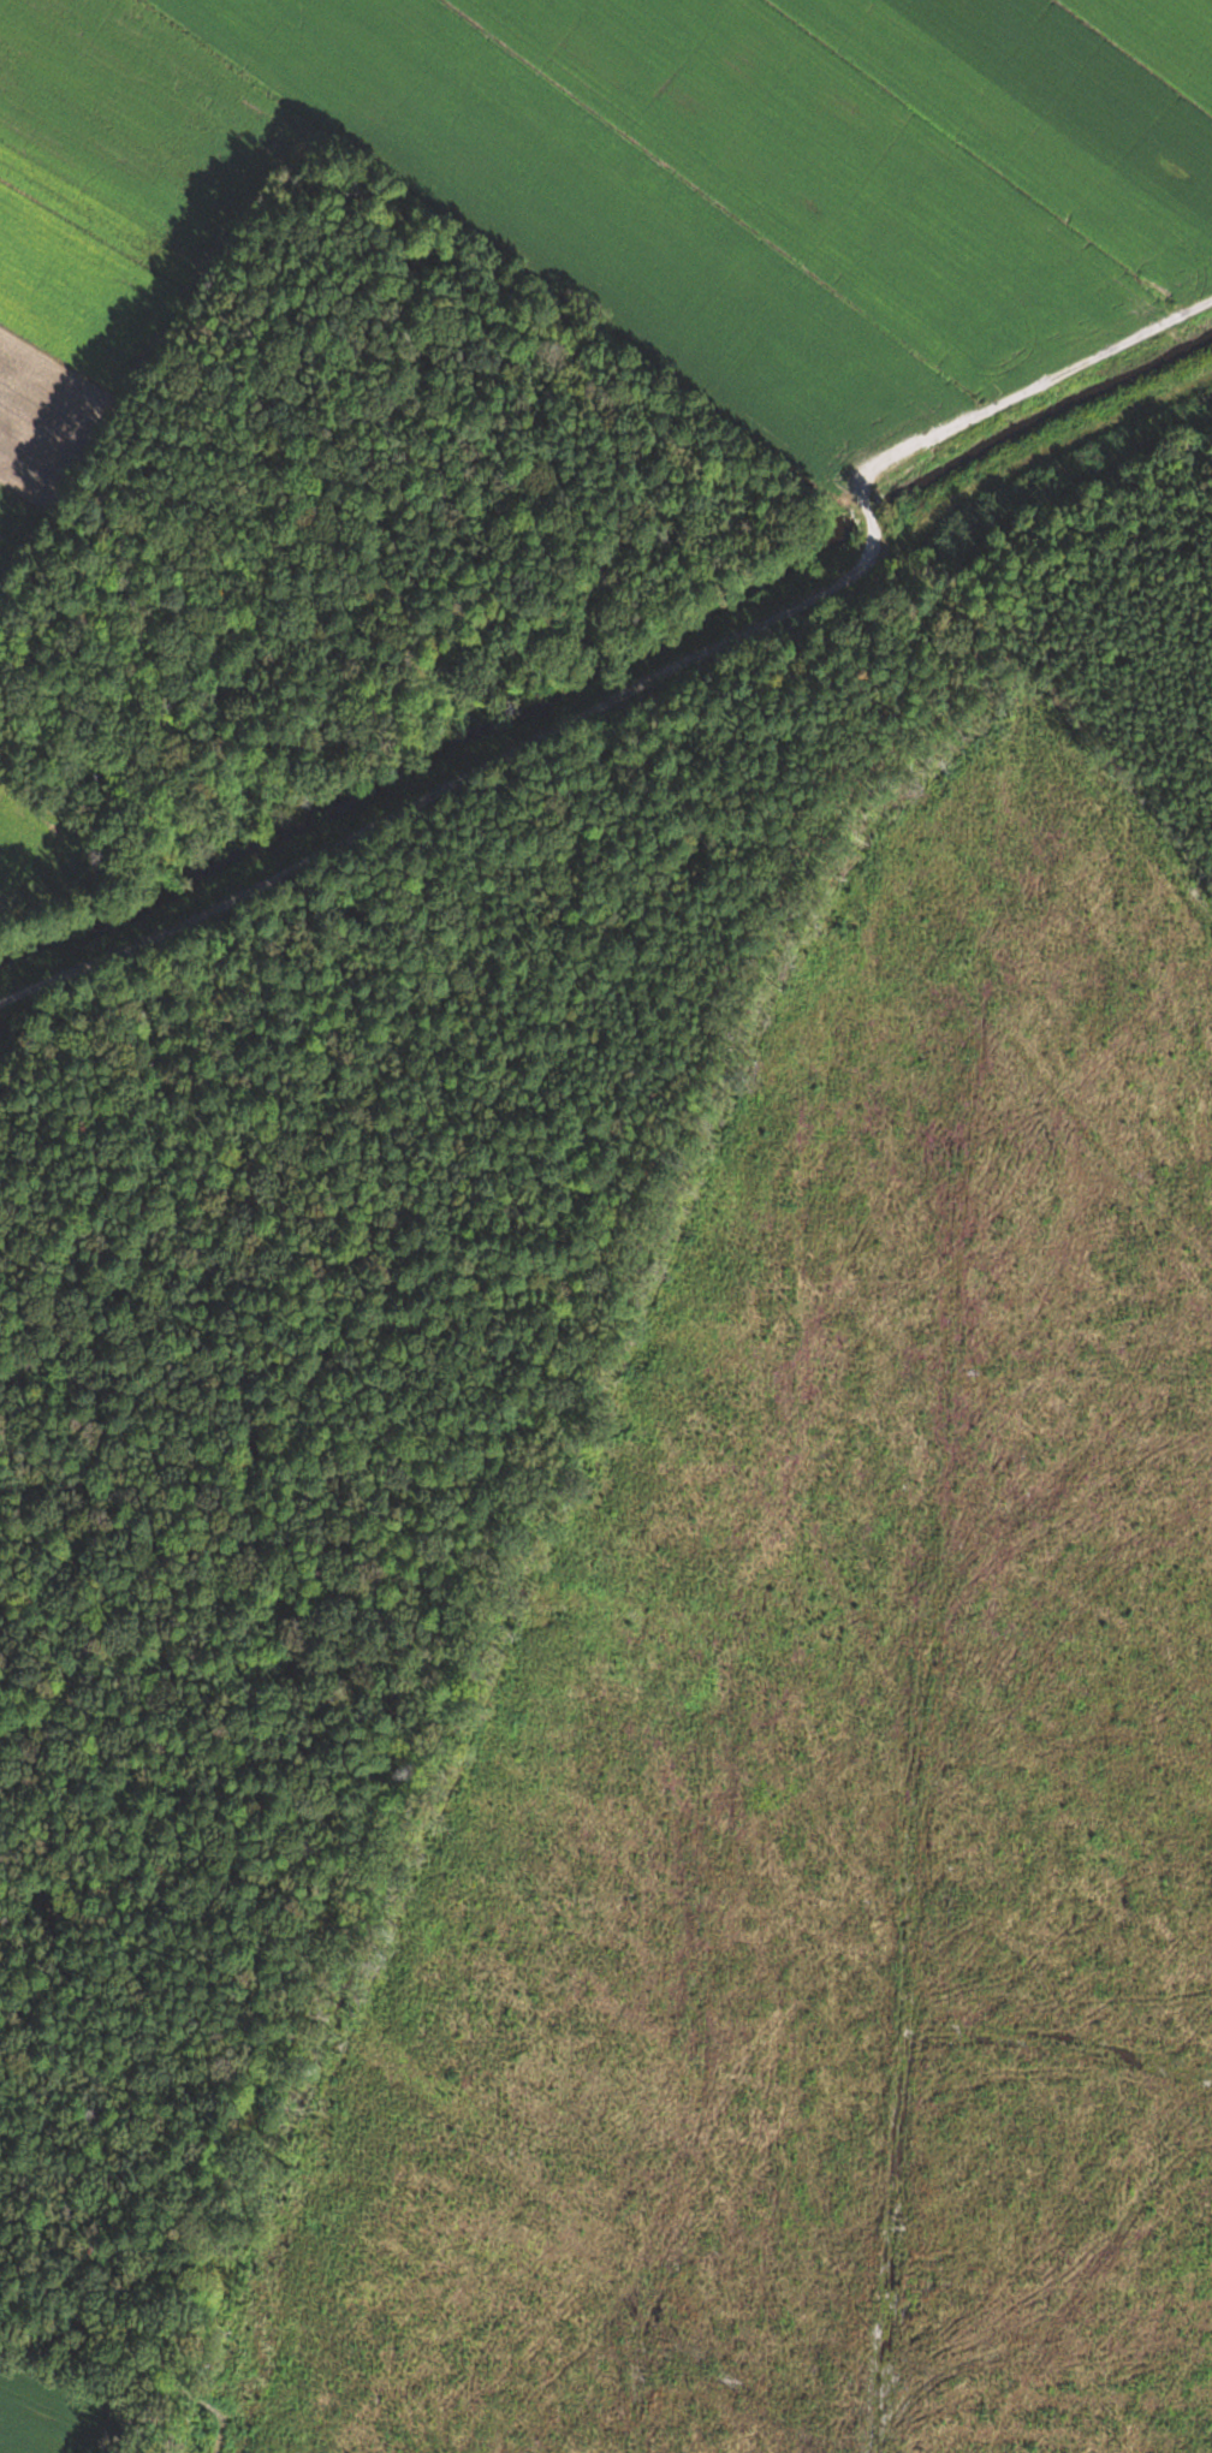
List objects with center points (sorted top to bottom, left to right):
road: (643, 677)

